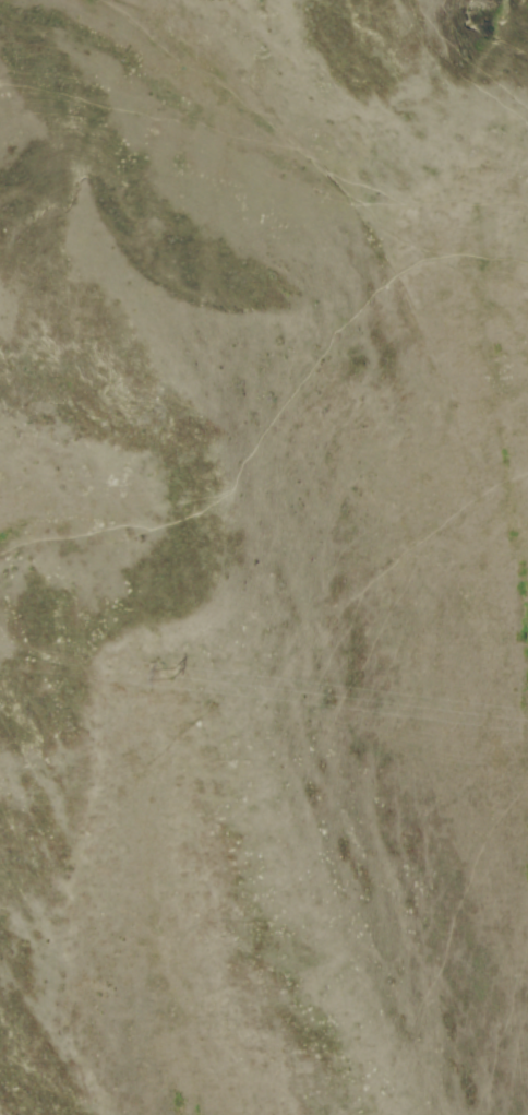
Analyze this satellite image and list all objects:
power tower: (171, 675)

